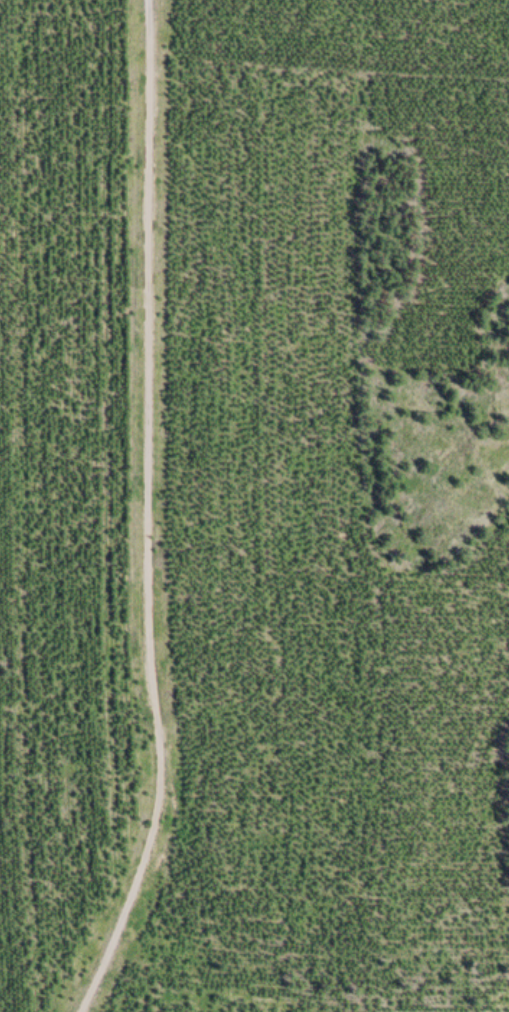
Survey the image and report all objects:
road: (330, 59)
road: (147, 513)
road: (312, 948)

